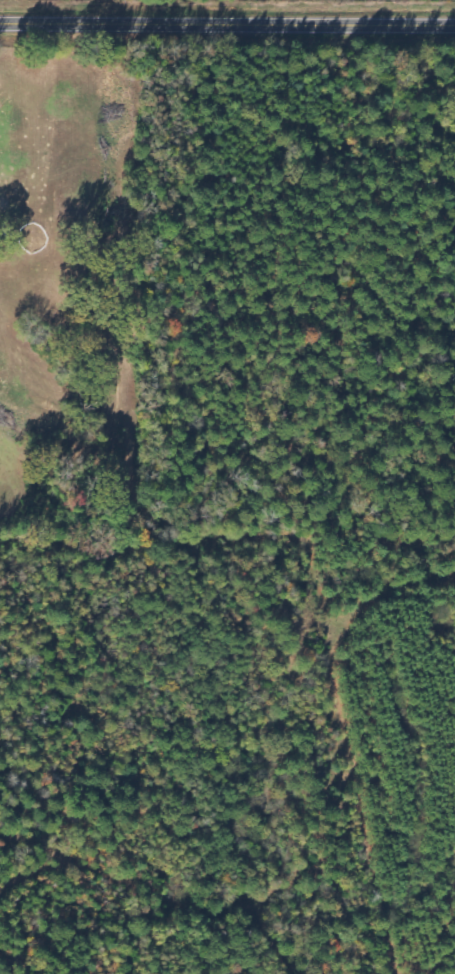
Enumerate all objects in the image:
road: (227, 23)

